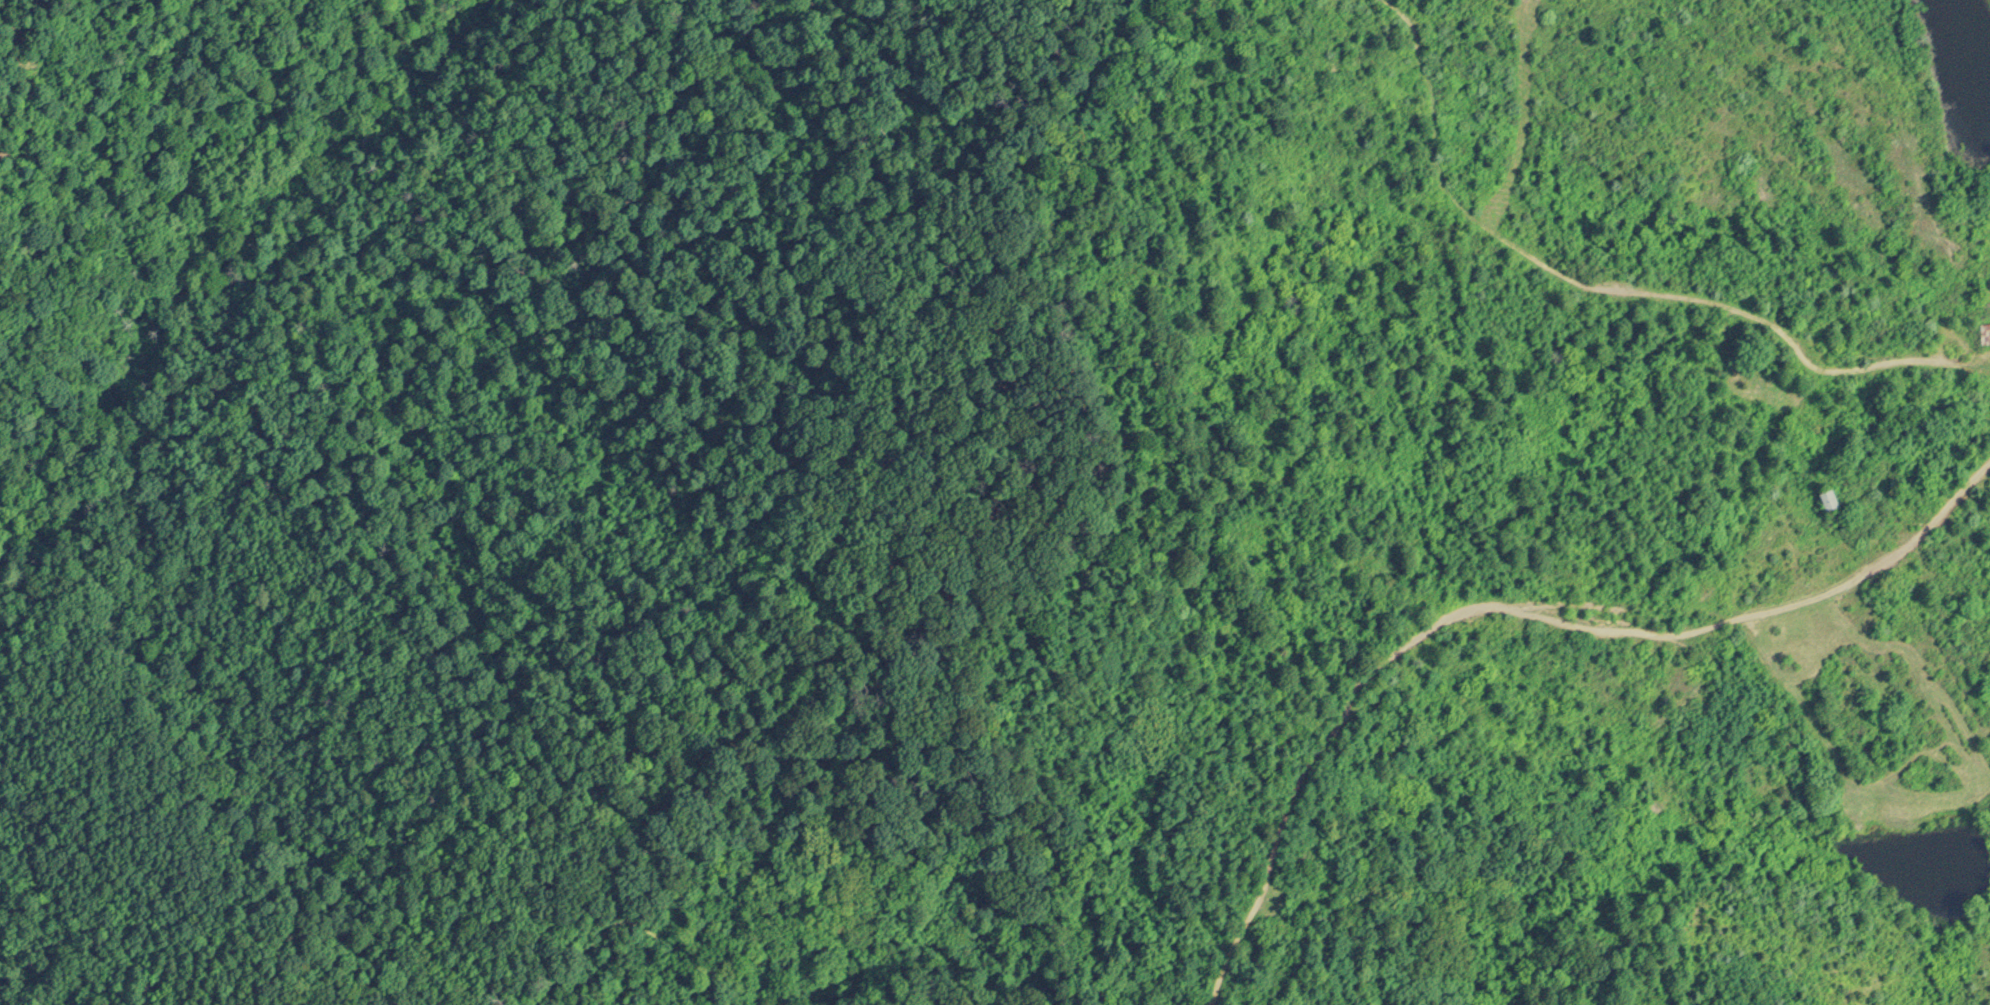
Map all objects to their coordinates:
road: (1609, 291)
building: (1985, 332)
building: (1829, 499)
road: (1509, 611)
road: (1152, 801)

